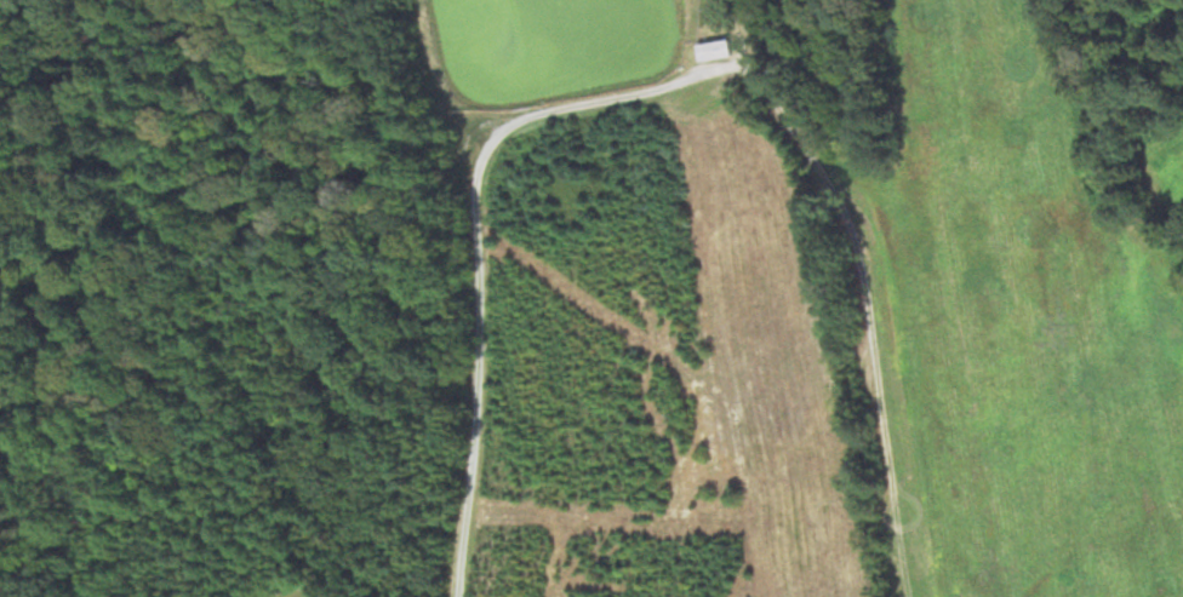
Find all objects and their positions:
road: (741, 29)
building: (718, 48)
road: (479, 233)

